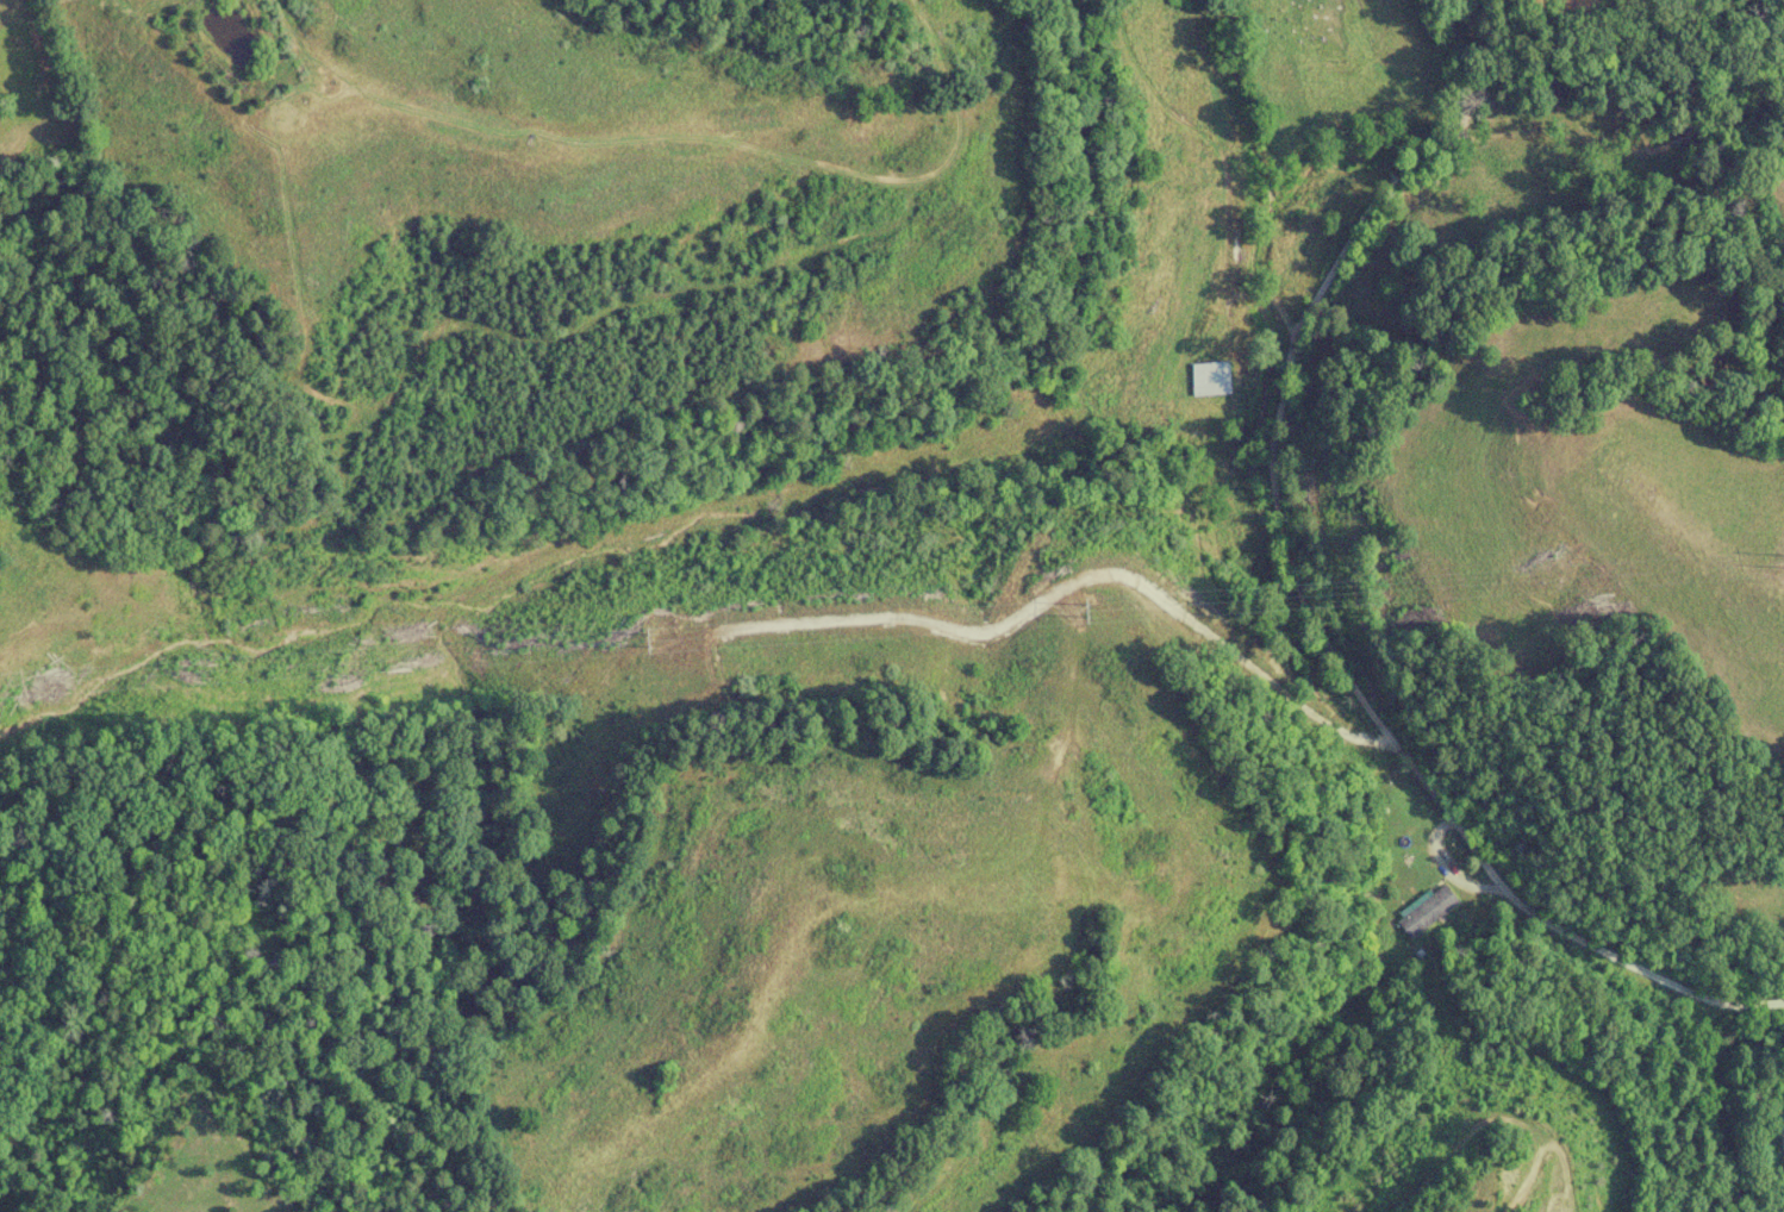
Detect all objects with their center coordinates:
building: (1212, 380)
road: (1320, 619)
building: (1427, 911)
road: (1779, 1155)

